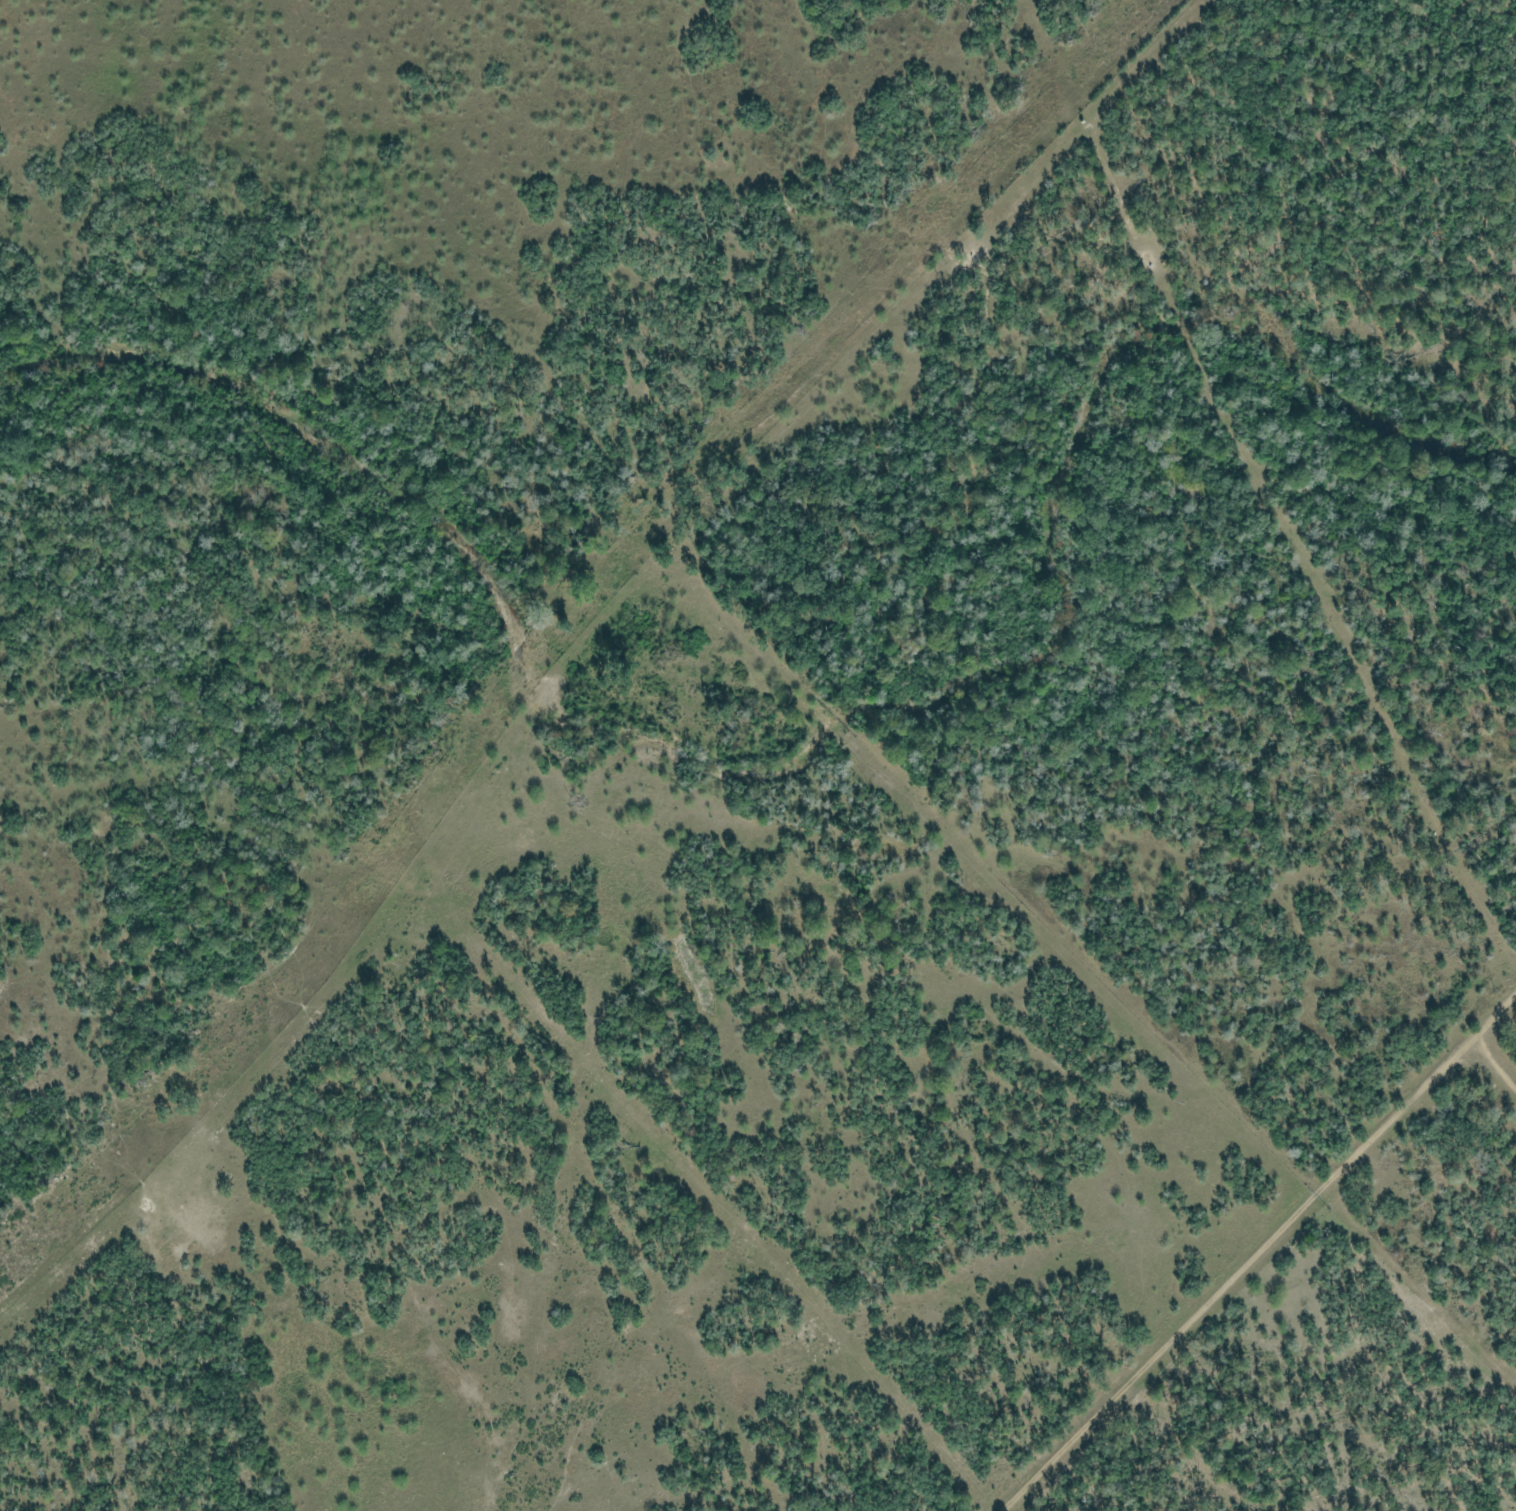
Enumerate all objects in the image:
road: (1286, 1270)

